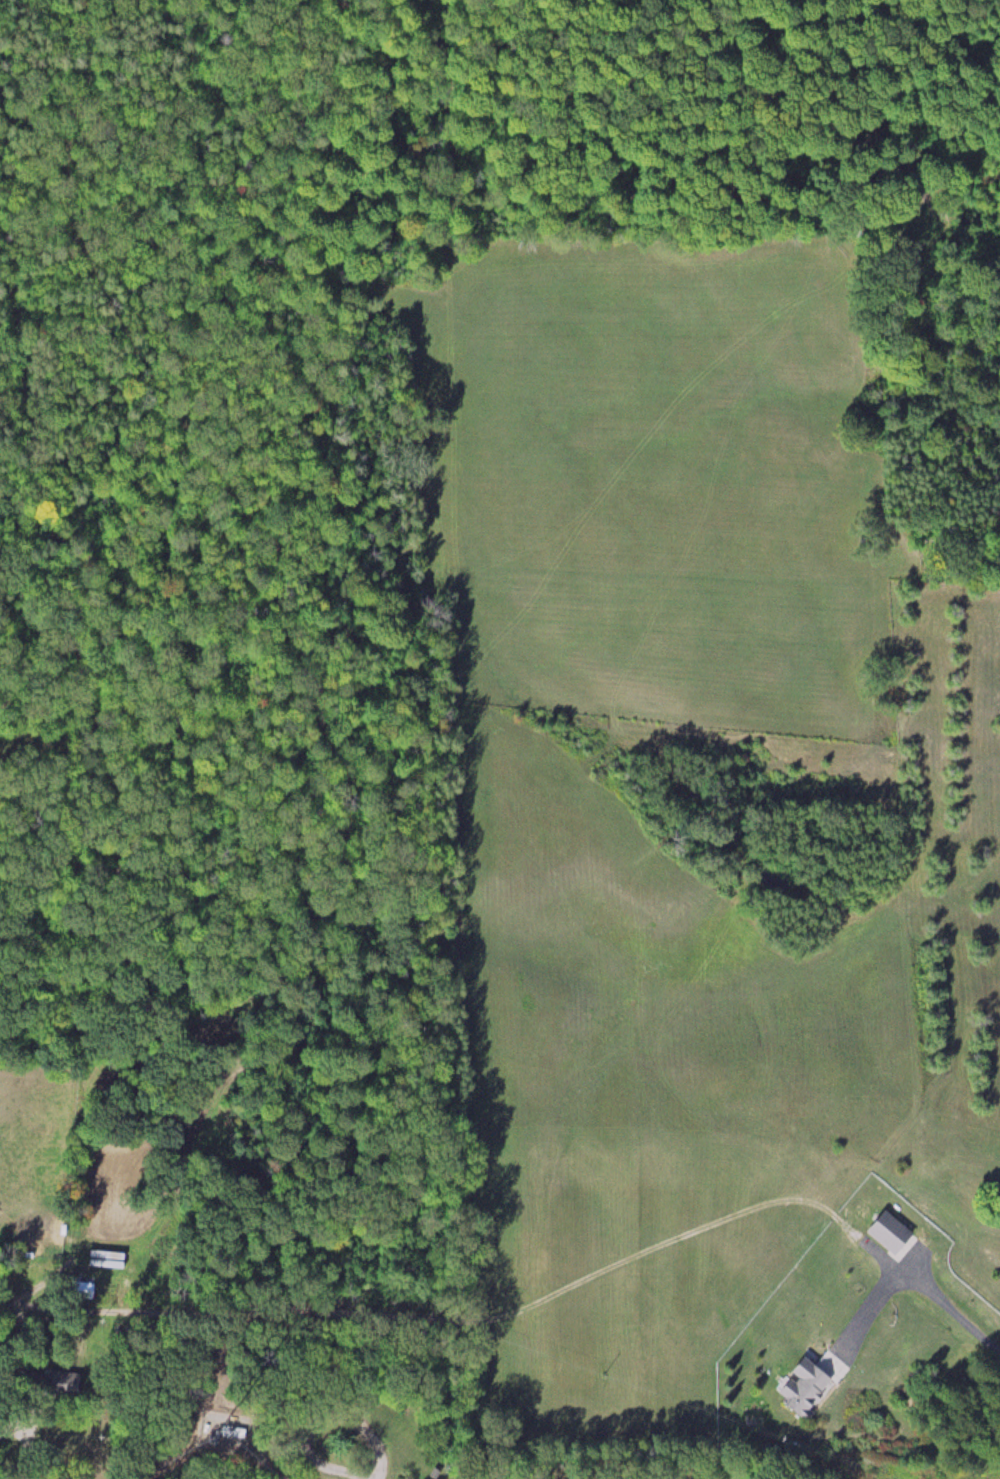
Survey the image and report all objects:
building: (895, 1233)
building: (814, 1383)

